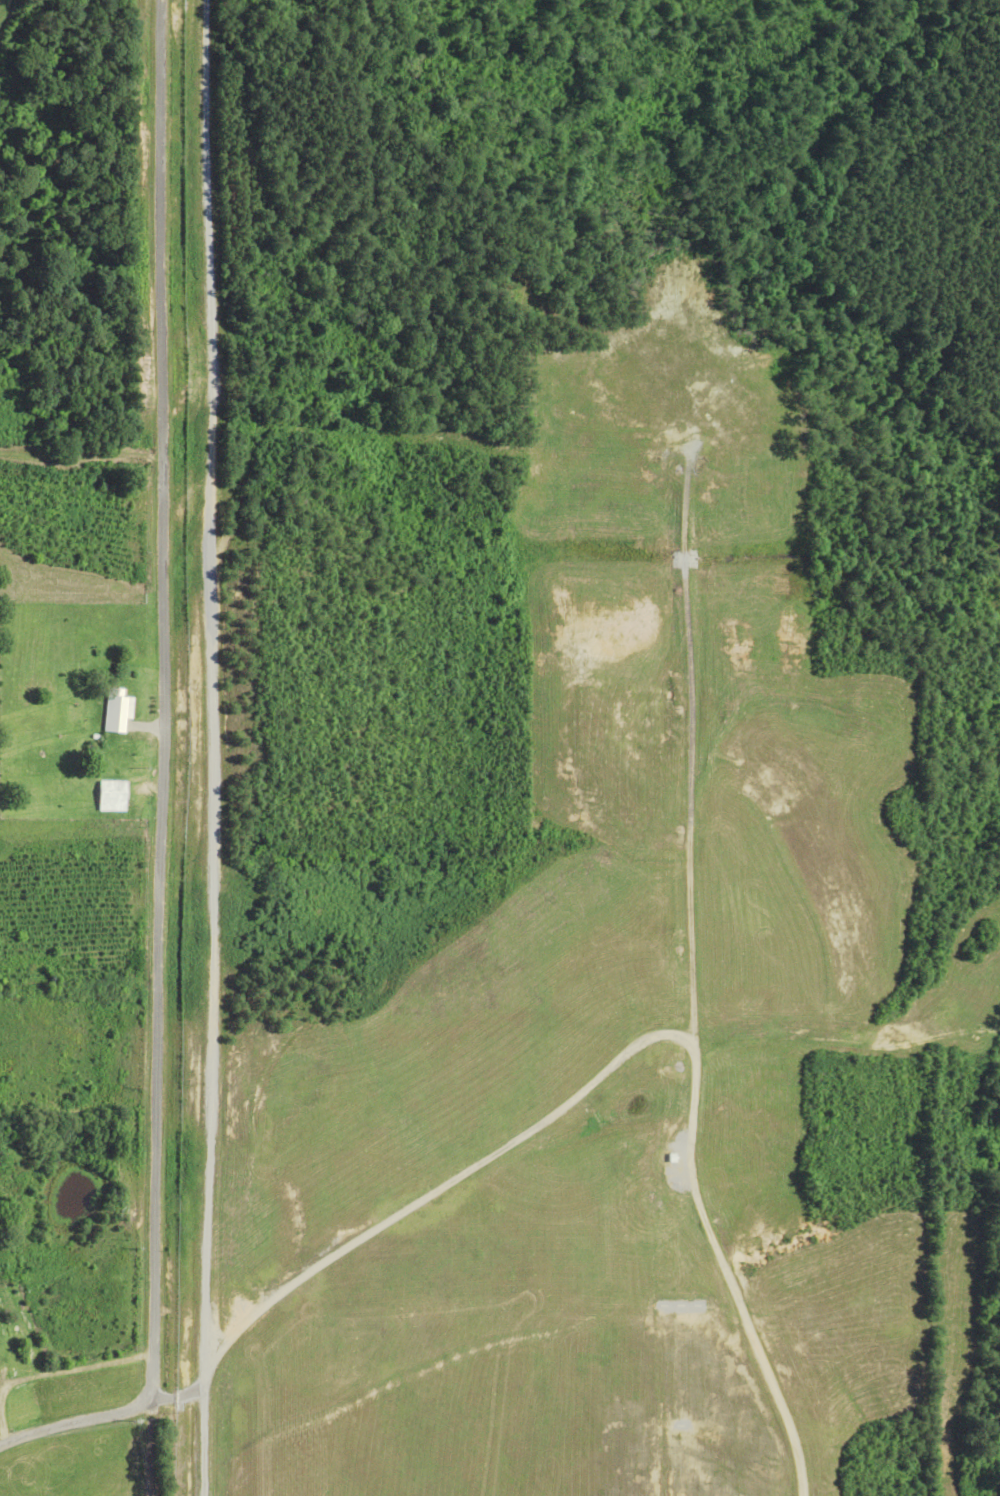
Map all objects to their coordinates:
building: (116, 710)
road: (159, 778)
building: (112, 795)
road: (51, 1372)

